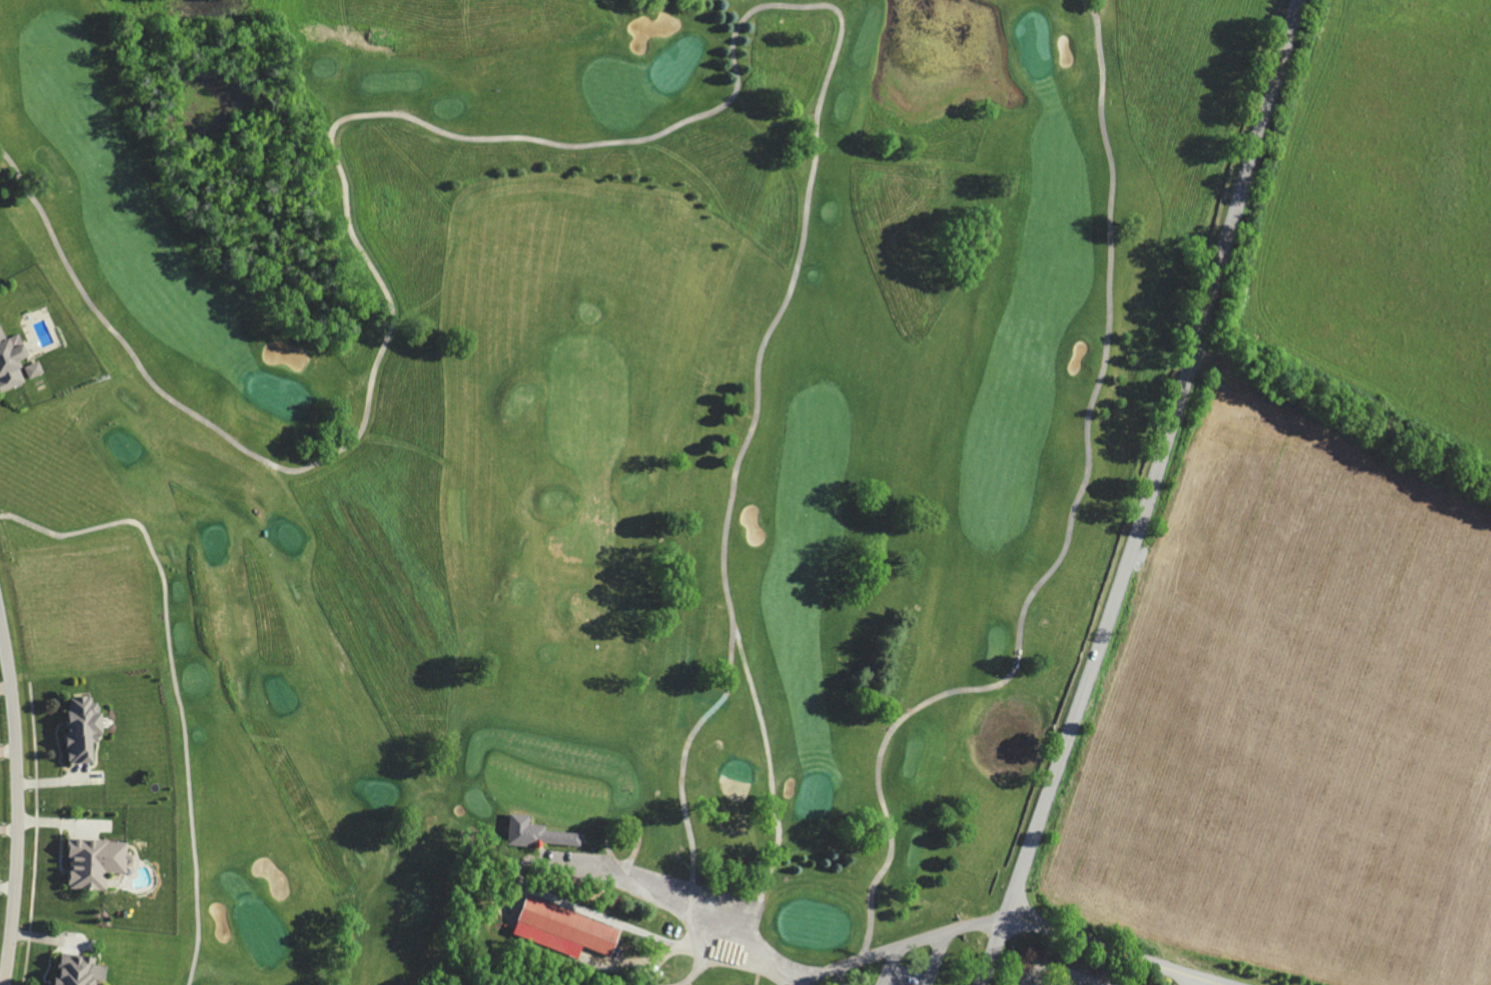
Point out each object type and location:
building: (18, 362)
water tower: (1223, 366)
park: (604, 449)
road: (1147, 495)
building: (89, 731)
road: (8, 751)
road: (17, 802)
road: (8, 831)
building: (536, 835)
building: (101, 863)
building: (565, 926)
road: (900, 944)
road: (1114, 949)
road: (934, 959)
road: (888, 965)
building: (85, 971)
road: (757, 971)
road: (1202, 982)

